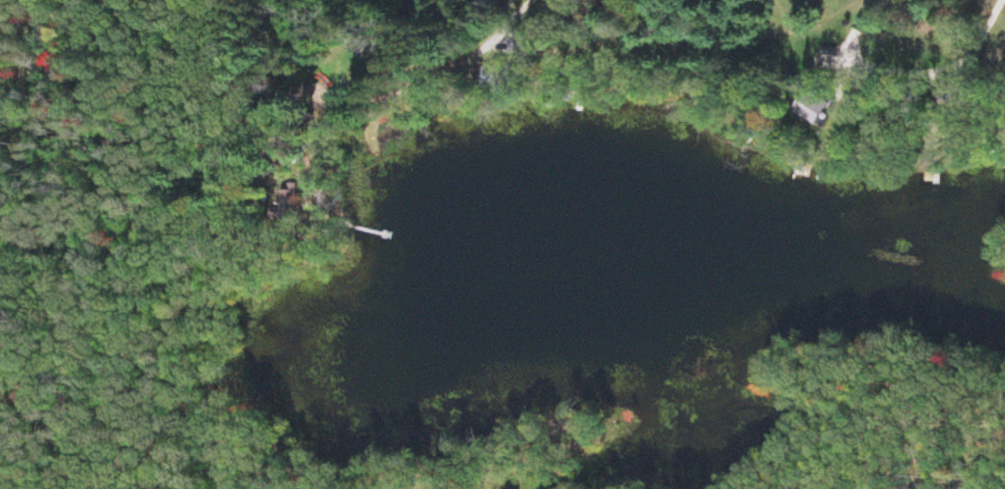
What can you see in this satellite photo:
road: (947, 478)

